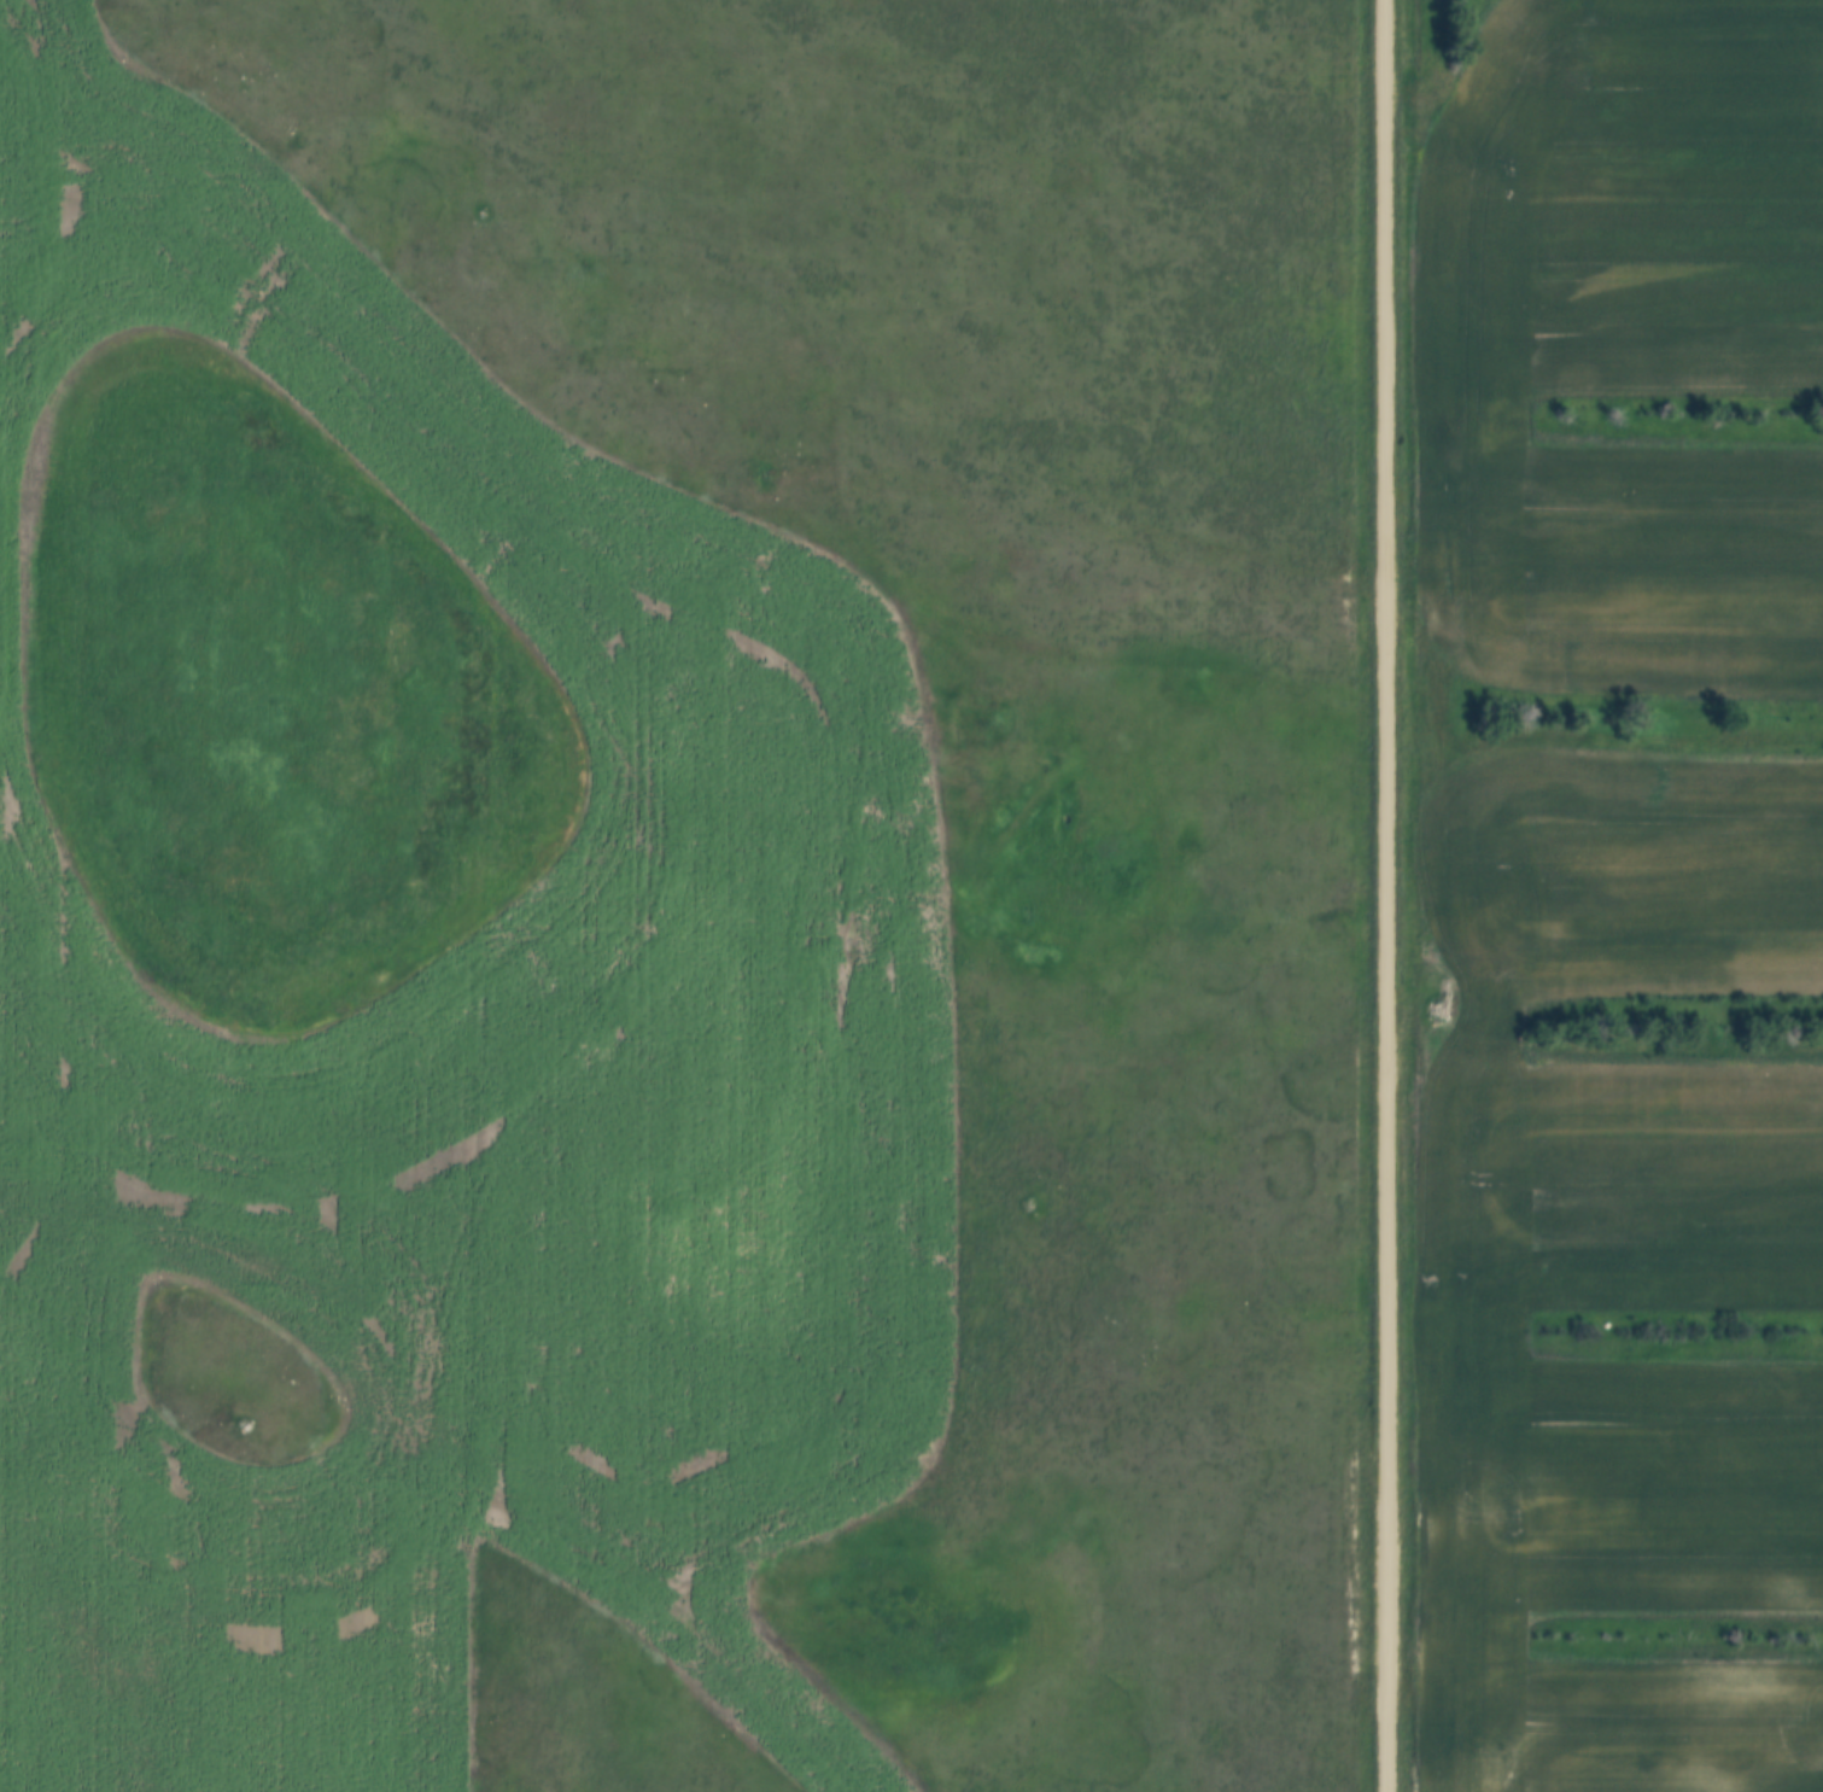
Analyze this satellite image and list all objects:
road: (1392, 895)

